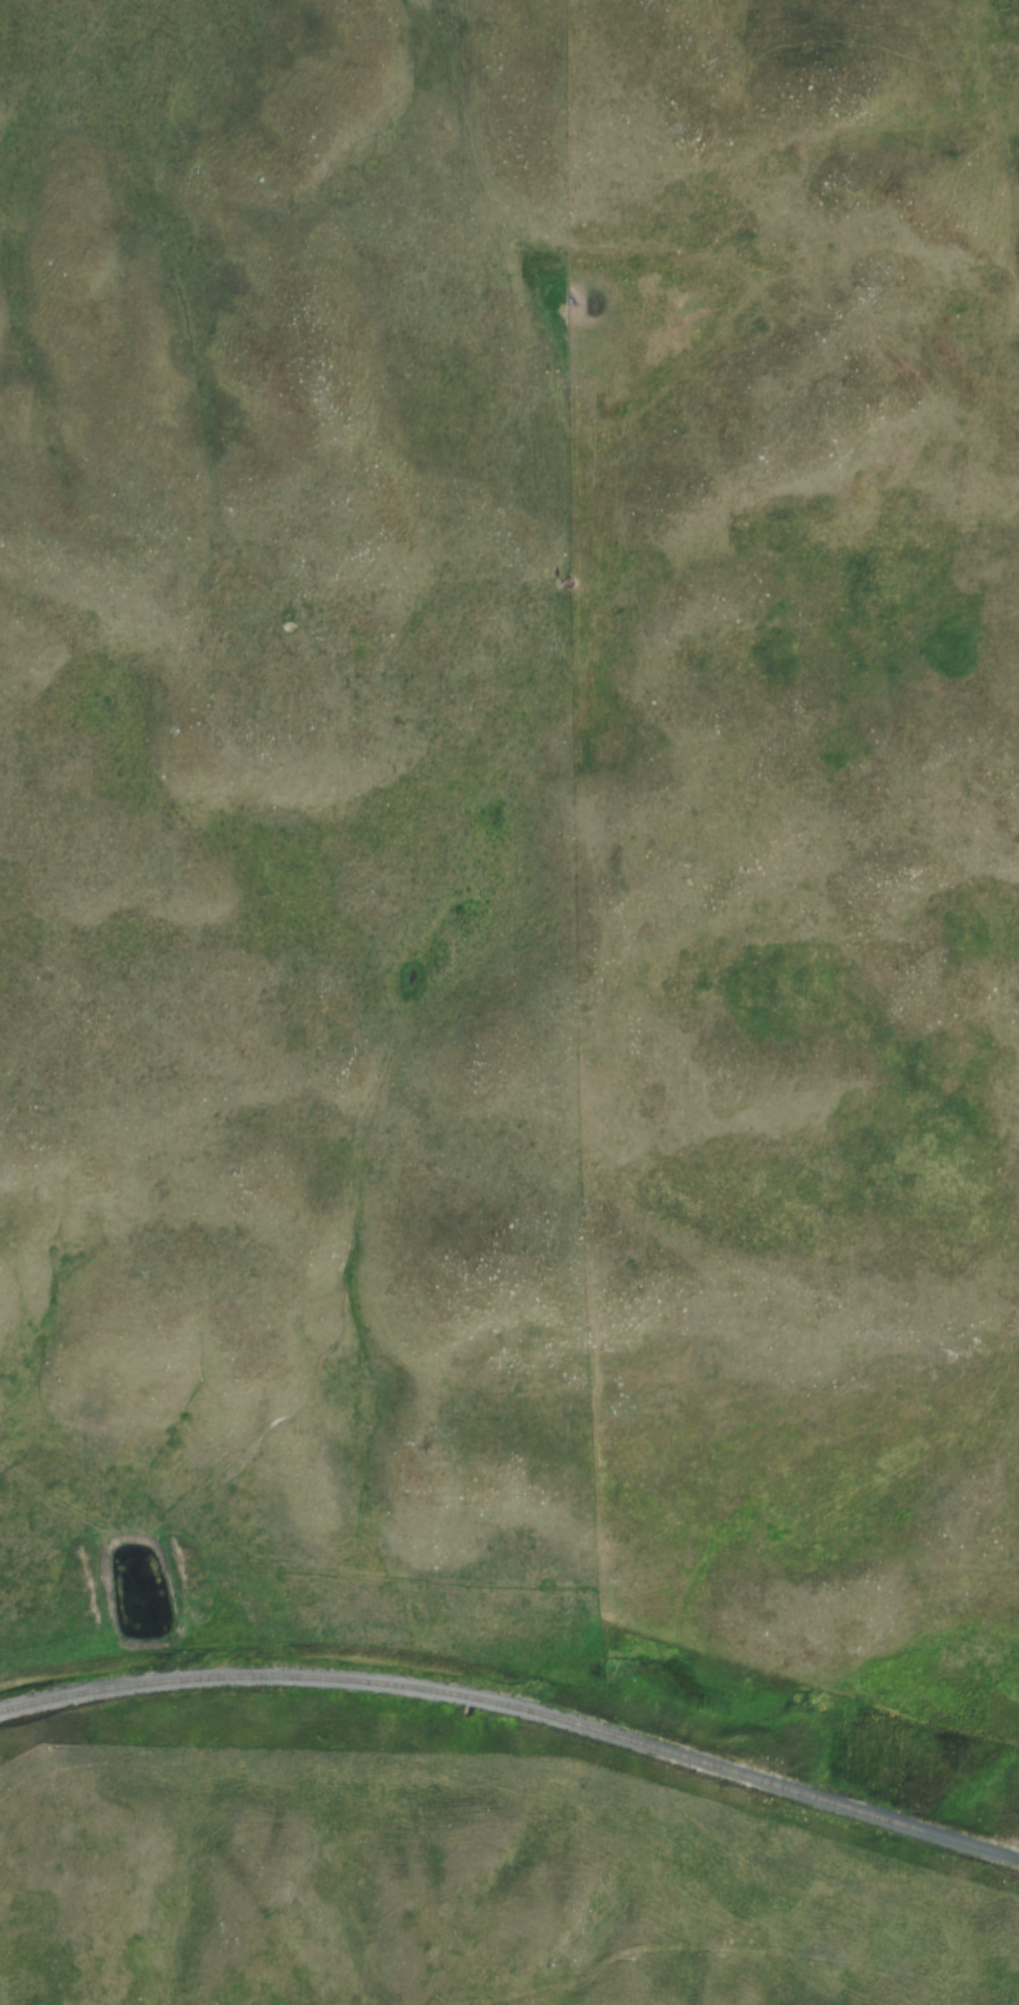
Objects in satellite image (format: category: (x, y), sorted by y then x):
railway: (515, 1697)

